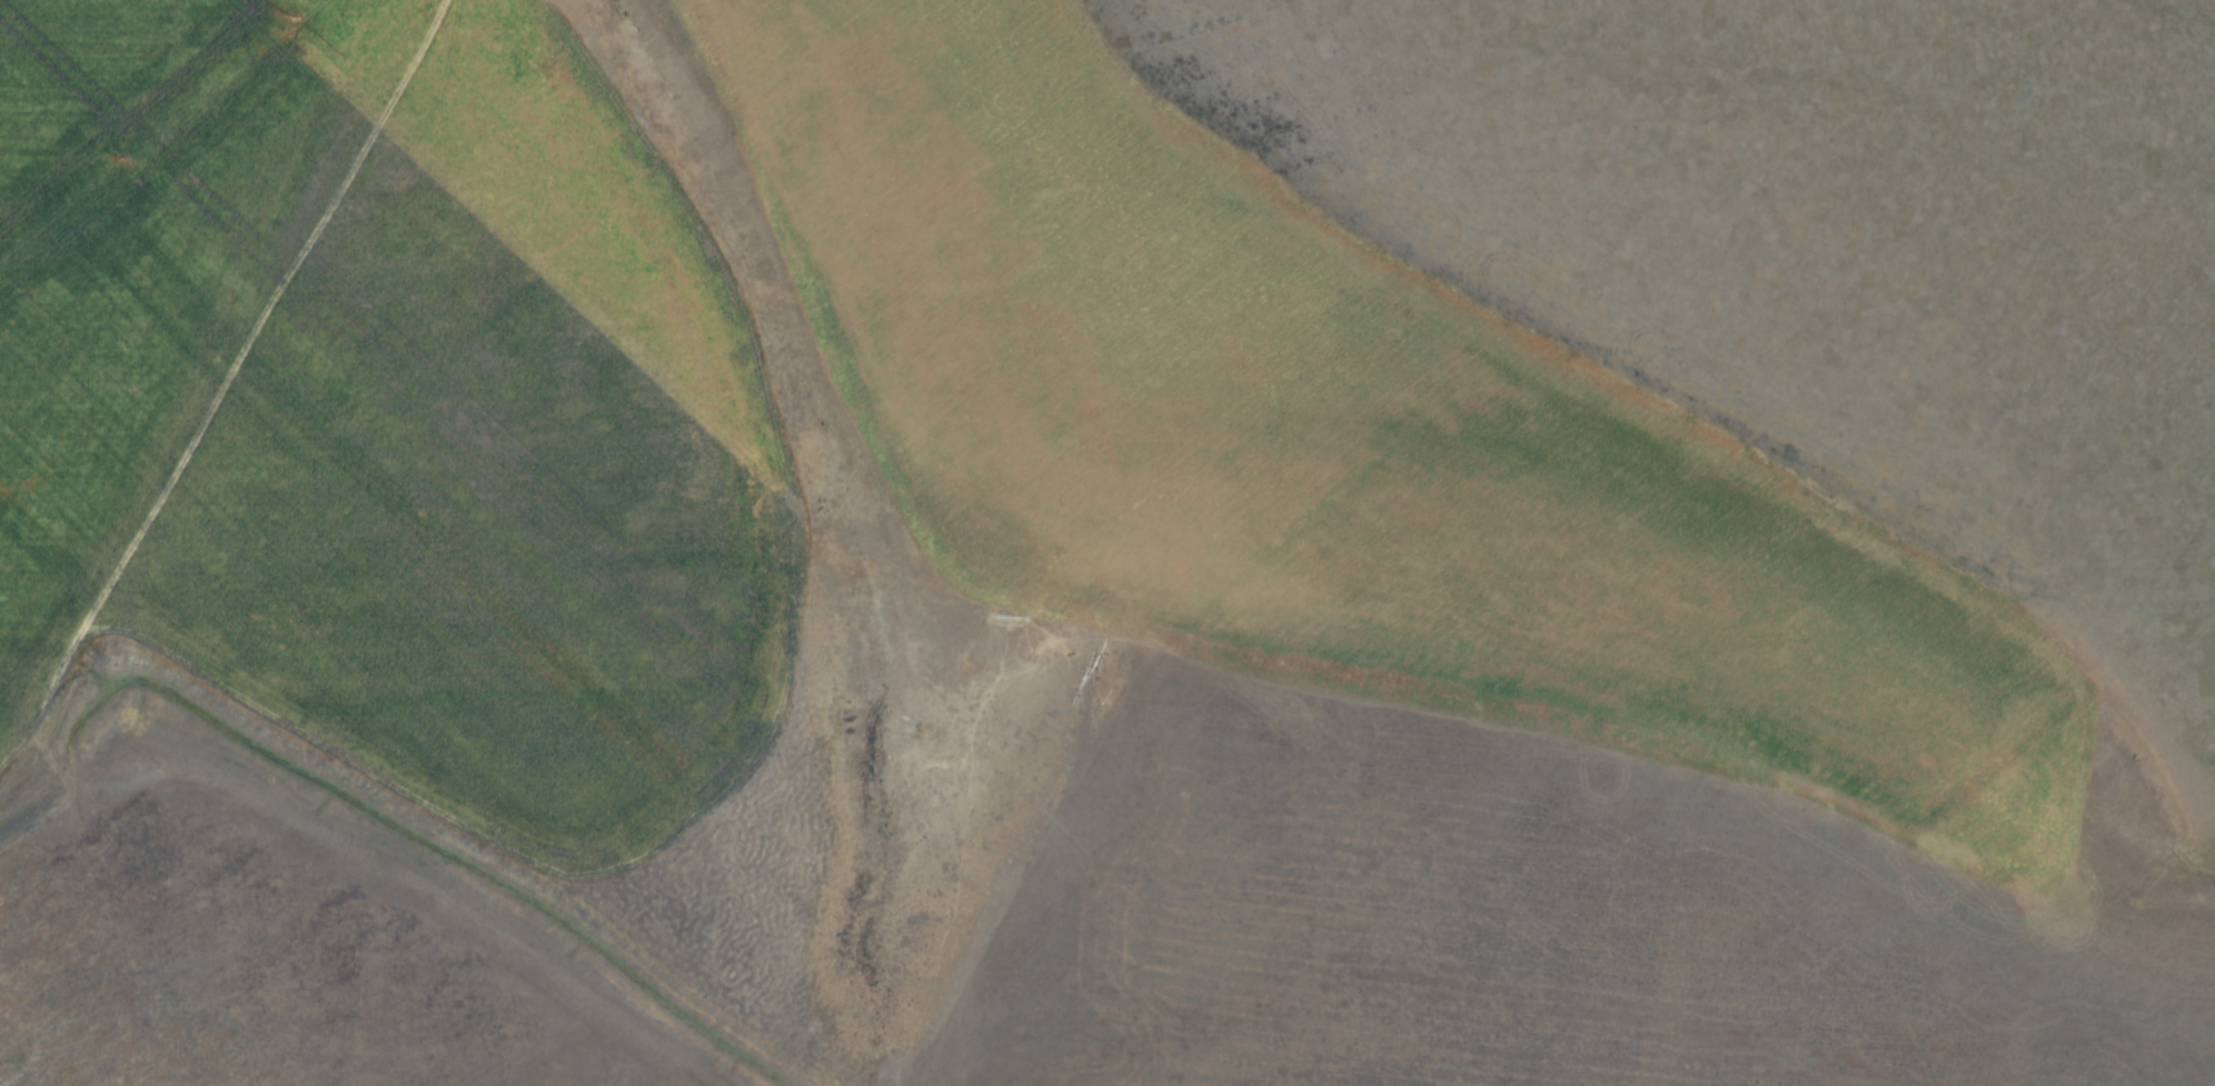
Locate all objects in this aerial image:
crop: (146, 193)
road: (266, 251)
crop: (456, 421)
crop: (1317, 432)
crop: (68, 525)
crop: (1540, 904)
crop: (307, 953)
crop: (62, 993)

